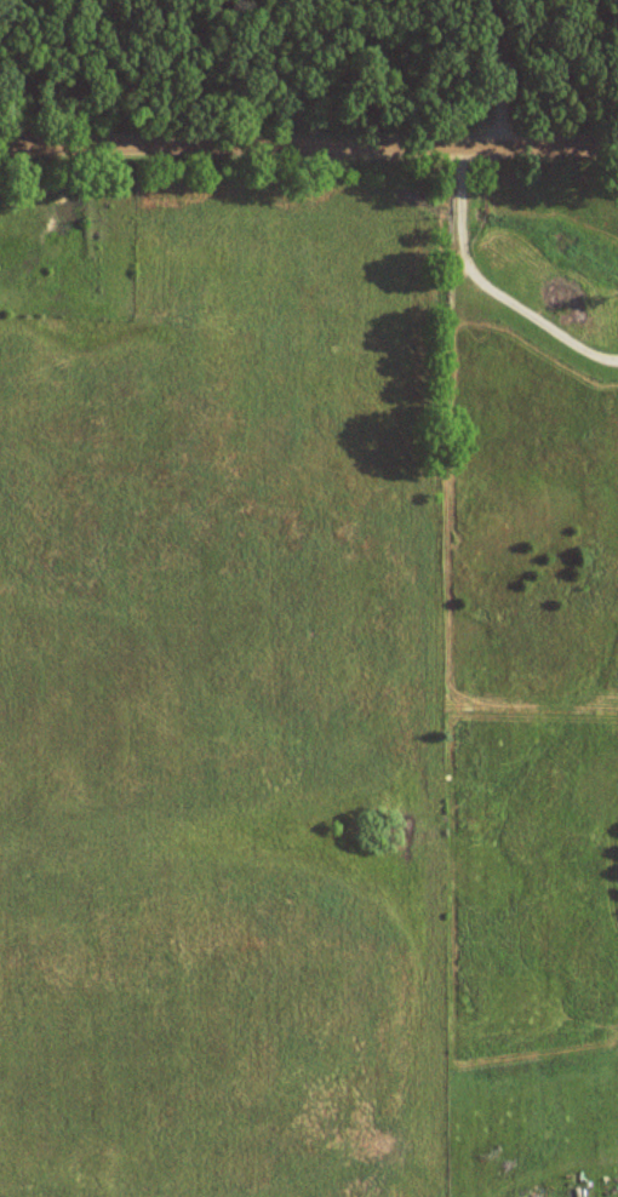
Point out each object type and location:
road: (309, 143)

